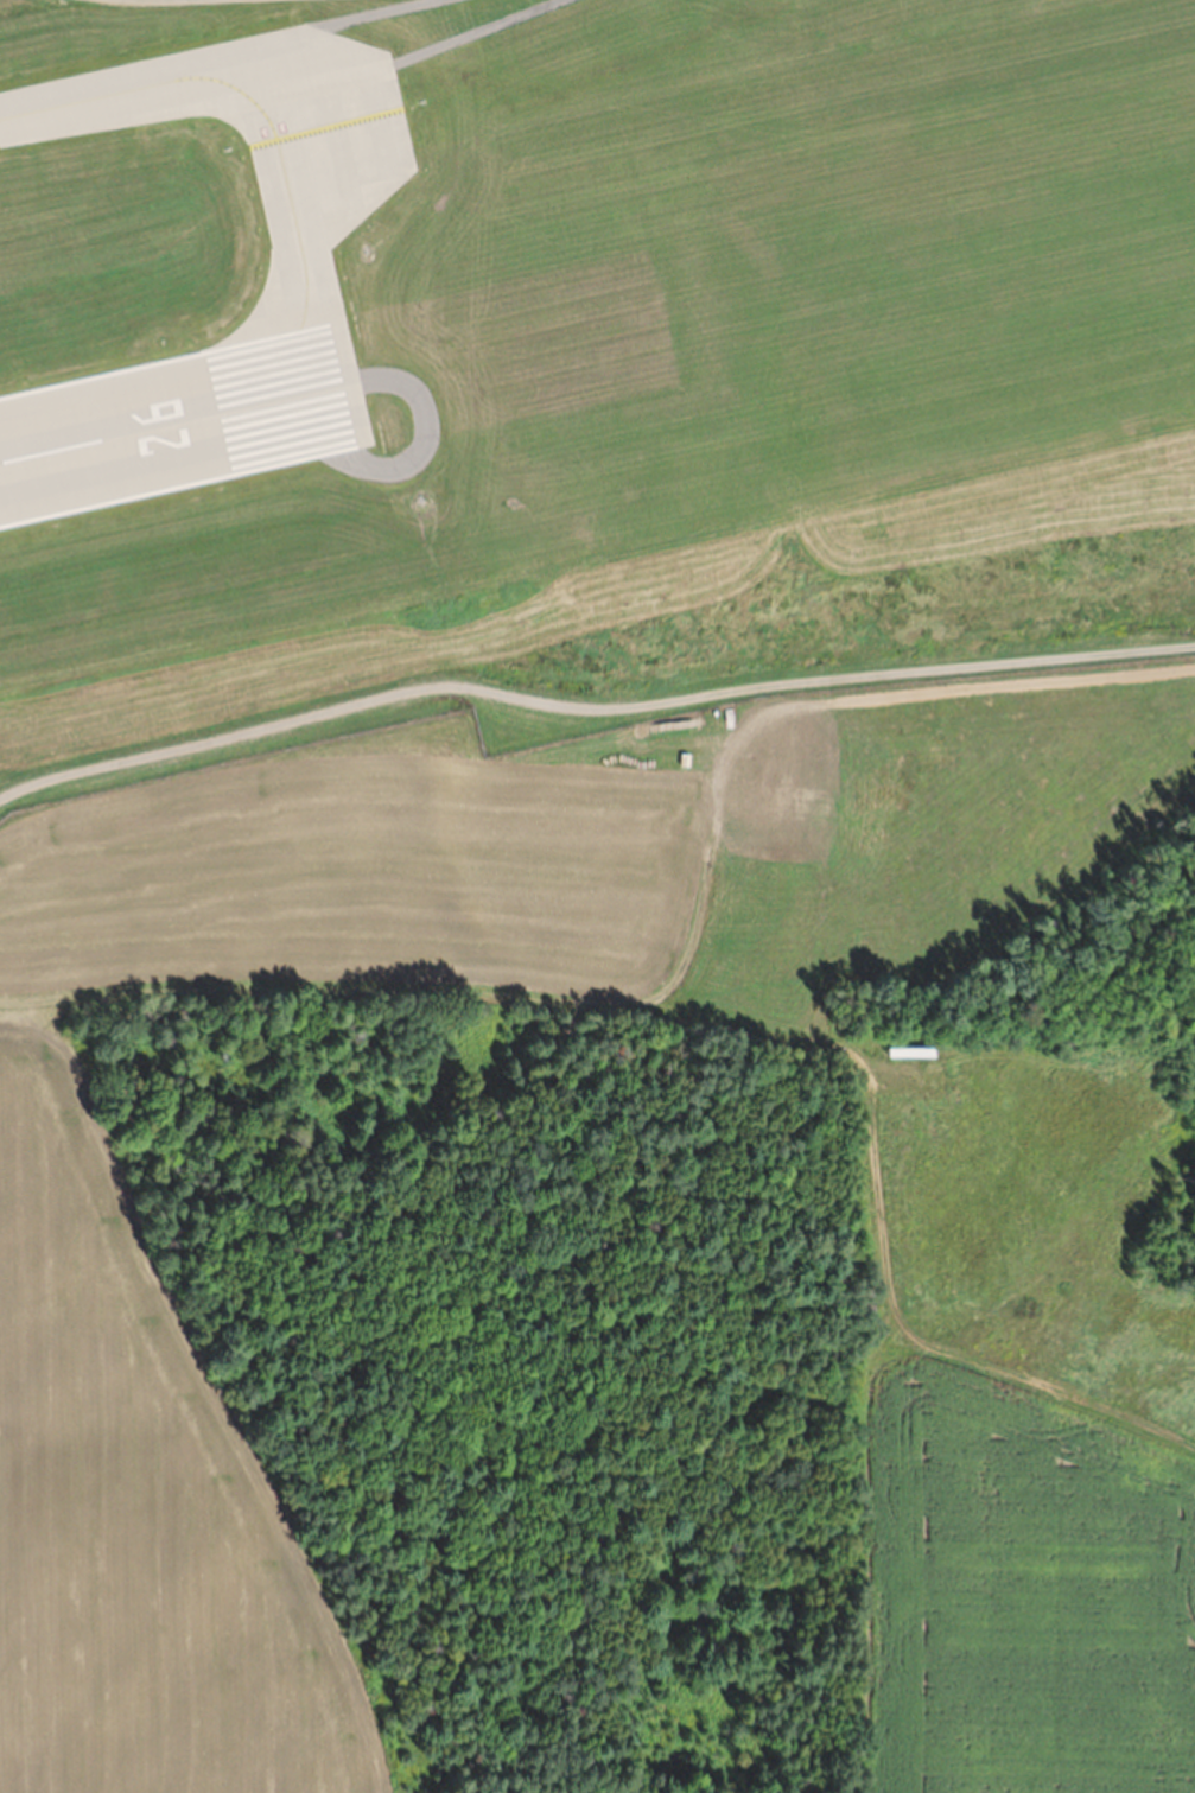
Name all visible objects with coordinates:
airport taxiway: (265, 113)
building: (0, 129)
building: (344, 403)
airport runway: (178, 420)
airport: (538, 822)
building: (915, 1051)

